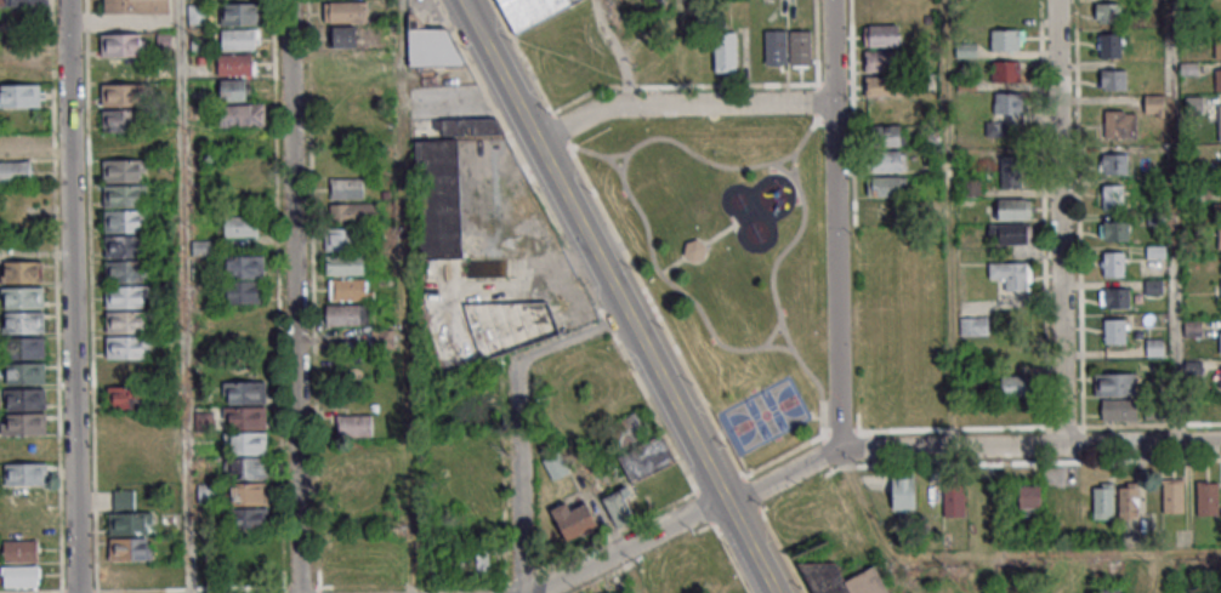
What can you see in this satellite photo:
building: (22, 2)
building: (135, 6)
building: (529, 11)
building: (345, 12)
building: (1107, 12)
building: (198, 13)
building: (239, 13)
building: (882, 35)
building: (345, 38)
building: (239, 39)
building: (1006, 39)
building: (120, 45)
building: (430, 45)
building: (1109, 46)
building: (774, 47)
building: (800, 47)
building: (1217, 47)
road: (401, 51)
building: (725, 51)
building: (18, 52)
road: (615, 52)
building: (882, 61)
building: (235, 64)
road: (498, 70)
building: (1005, 70)
building: (1217, 78)
building: (1113, 79)
building: (885, 86)
building: (234, 90)
building: (119, 95)
building: (21, 96)
building: (1006, 103)
road: (680, 104)
building: (242, 115)
building: (1219, 121)
building: (1118, 124)
building: (123, 133)
building: (887, 135)
building: (15, 147)
building: (887, 161)
building: (1114, 162)
building: (16, 171)
building: (1011, 171)
building: (443, 182)
building: (886, 186)
building: (971, 187)
building: (347, 188)
building: (125, 196)
building: (1112, 196)
building: (1015, 207)
building: (1217, 207)
building: (353, 213)
road: (1170, 222)
road: (947, 223)
road: (1058, 223)
road: (834, 224)
building: (240, 226)
building: (1114, 230)
building: (1009, 234)
building: (1219, 238)
building: (343, 239)
building: (125, 246)
building: (694, 250)
park: (725, 262)
building: (1113, 263)
building: (345, 264)
building: (245, 267)
building: (23, 272)
building: (124, 272)
building: (1011, 274)
building: (1152, 286)
building: (351, 290)
building: (245, 292)
road: (70, 296)
building: (126, 296)
road: (183, 296)
road: (293, 296)
building: (23, 297)
building: (1114, 297)
building: (346, 315)
building: (23, 323)
park: (899, 323)
building: (512, 324)
building: (973, 325)
building: (1114, 330)
building: (382, 342)
building: (1220, 342)
building: (24, 348)
road: (405, 348)
road: (653, 367)
building: (127, 372)
building: (25, 374)
building: (1220, 377)
building: (1114, 383)
building: (1015, 384)
building: (245, 393)
building: (125, 398)
building: (24, 399)
building: (1118, 410)
park: (763, 415)
road: (516, 417)
building: (23, 423)
building: (354, 426)
building: (631, 427)
building: (245, 431)
road: (863, 447)
building: (647, 458)
building: (556, 467)
building: (25, 473)
building: (246, 481)
building: (903, 492)
building: (1172, 495)
building: (1029, 496)
building: (1208, 497)
building: (954, 501)
building: (1103, 501)
building: (1128, 501)
building: (615, 507)
building: (129, 515)
building: (249, 518)
building: (573, 520)
building: (131, 549)
building: (21, 551)
road: (996, 553)
building: (473, 566)
road: (631, 572)
building: (823, 575)
building: (21, 576)
building: (1109, 591)

